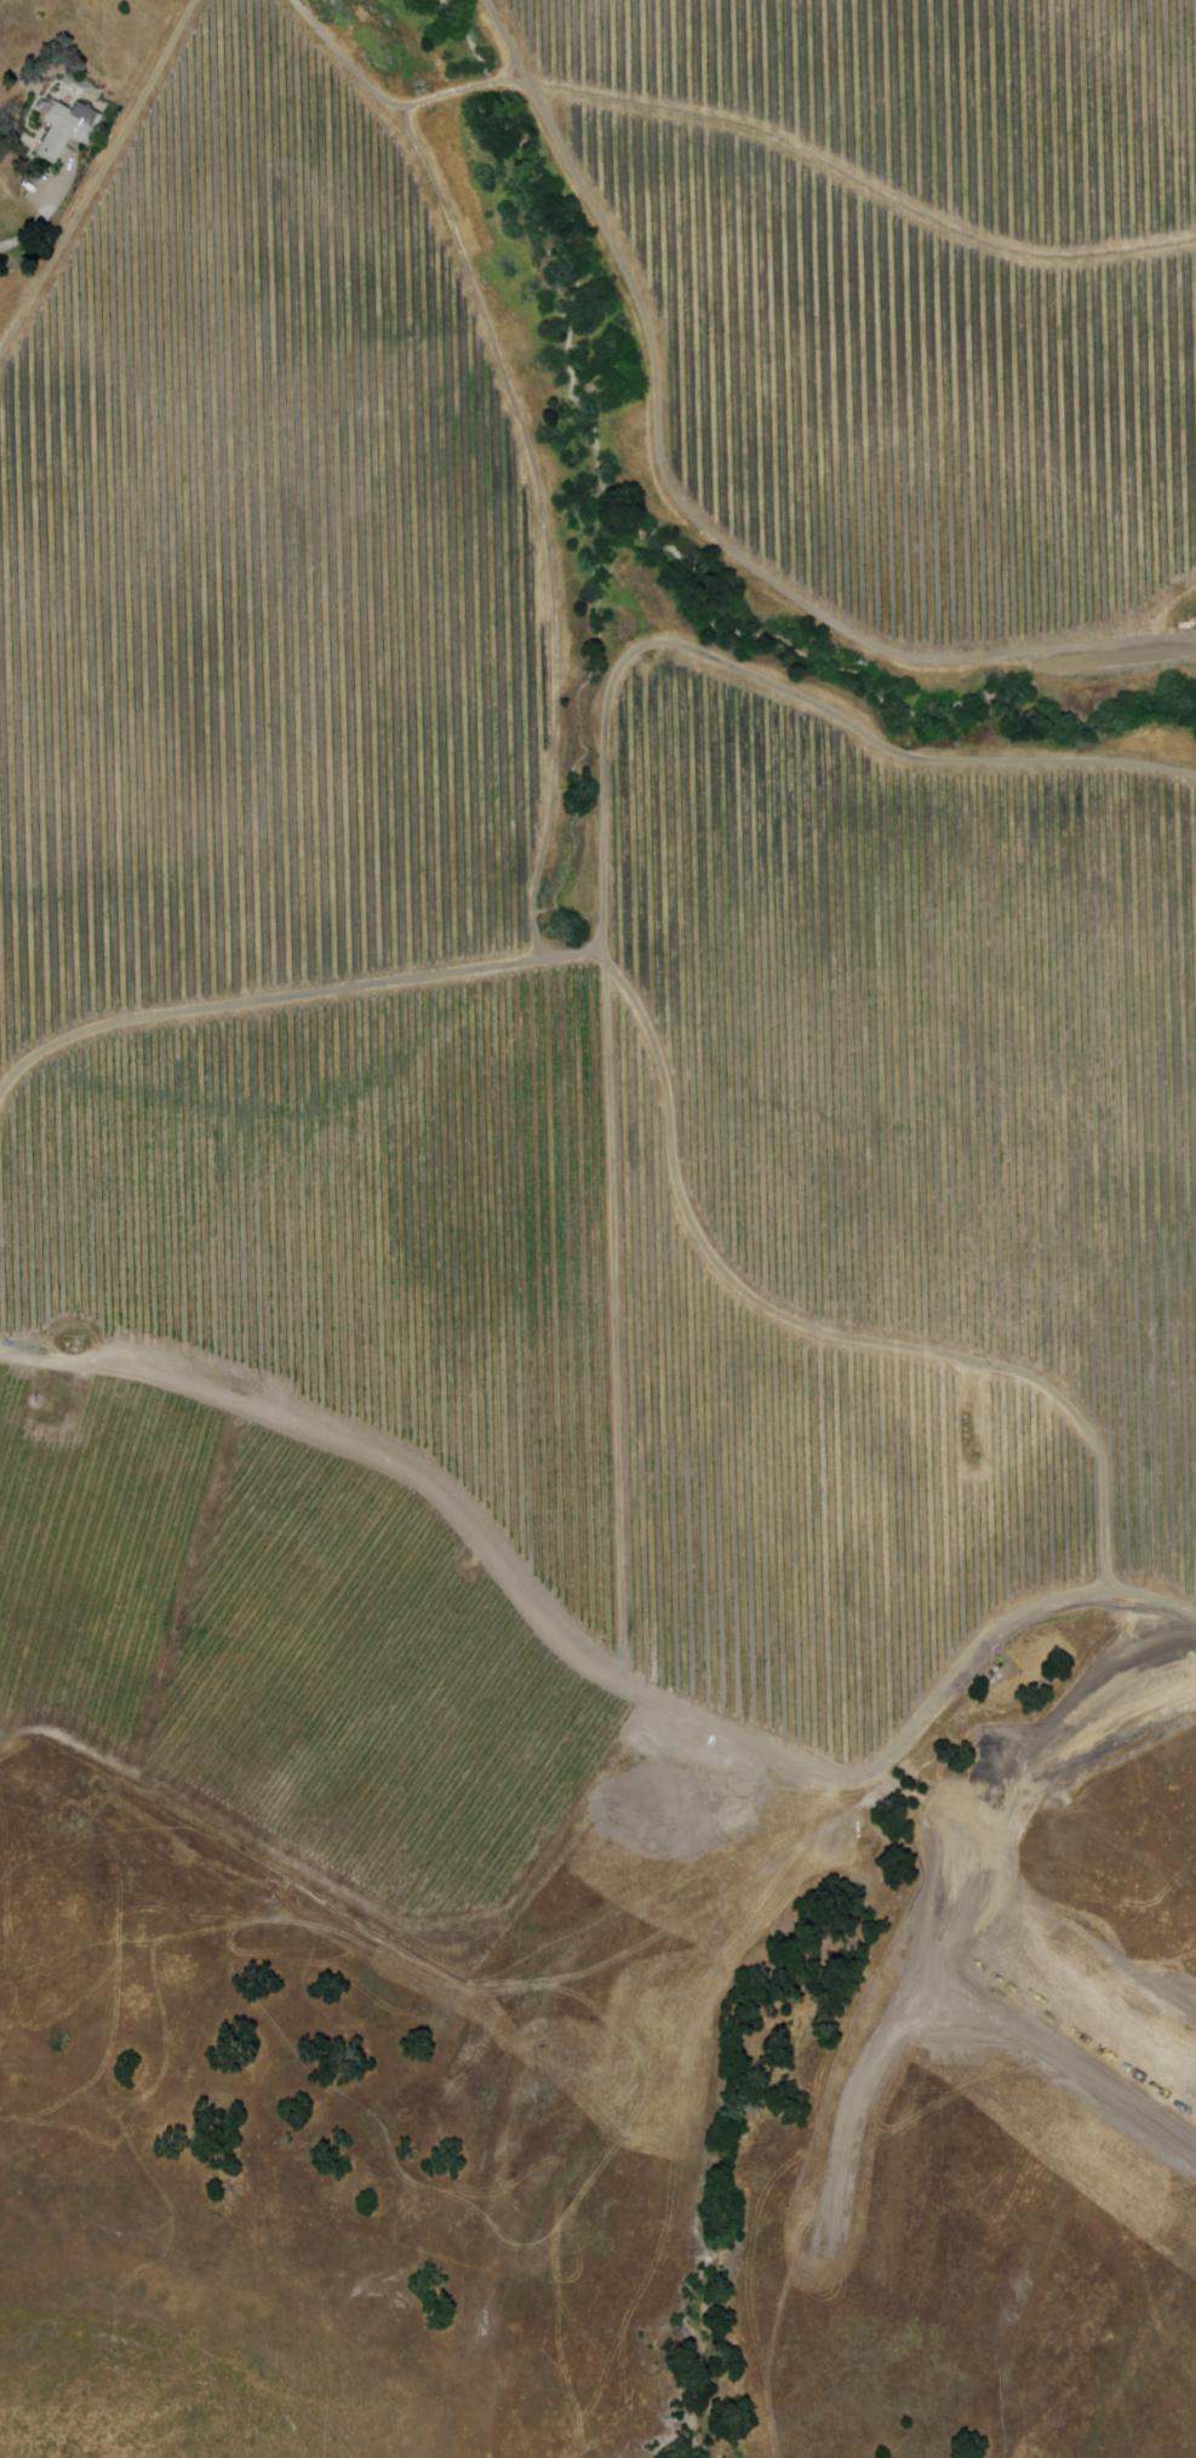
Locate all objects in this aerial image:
road: (733, 124)
building: (68, 130)
road: (98, 179)
road: (23, 236)
road: (687, 509)
road: (544, 524)
road: (606, 873)
road: (296, 998)
road: (826, 1333)
road: (593, 1674)

